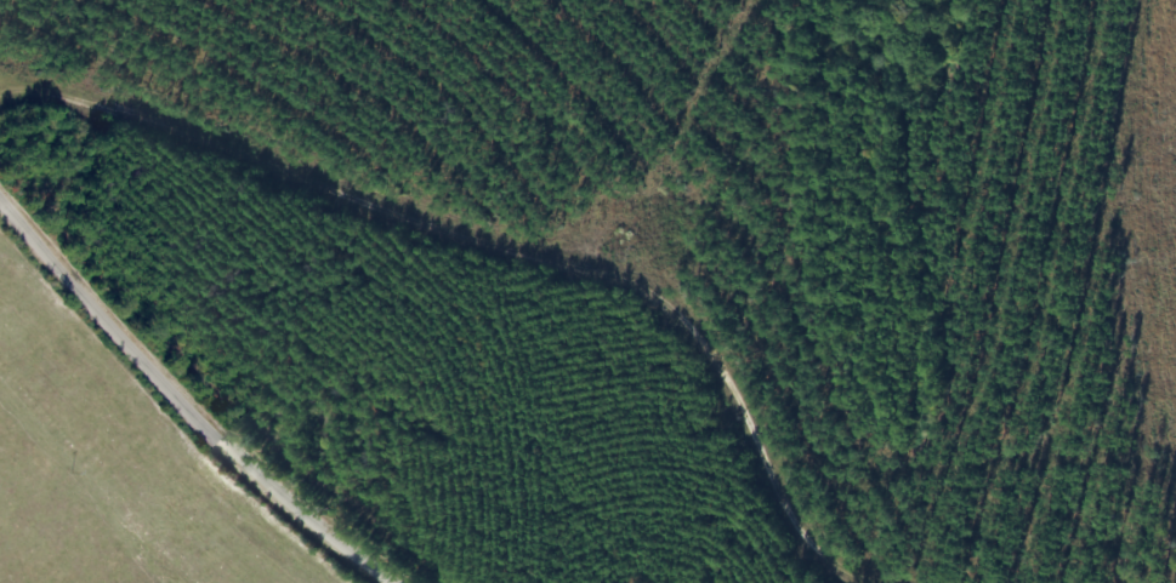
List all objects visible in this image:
road: (538, 236)
road: (183, 399)

